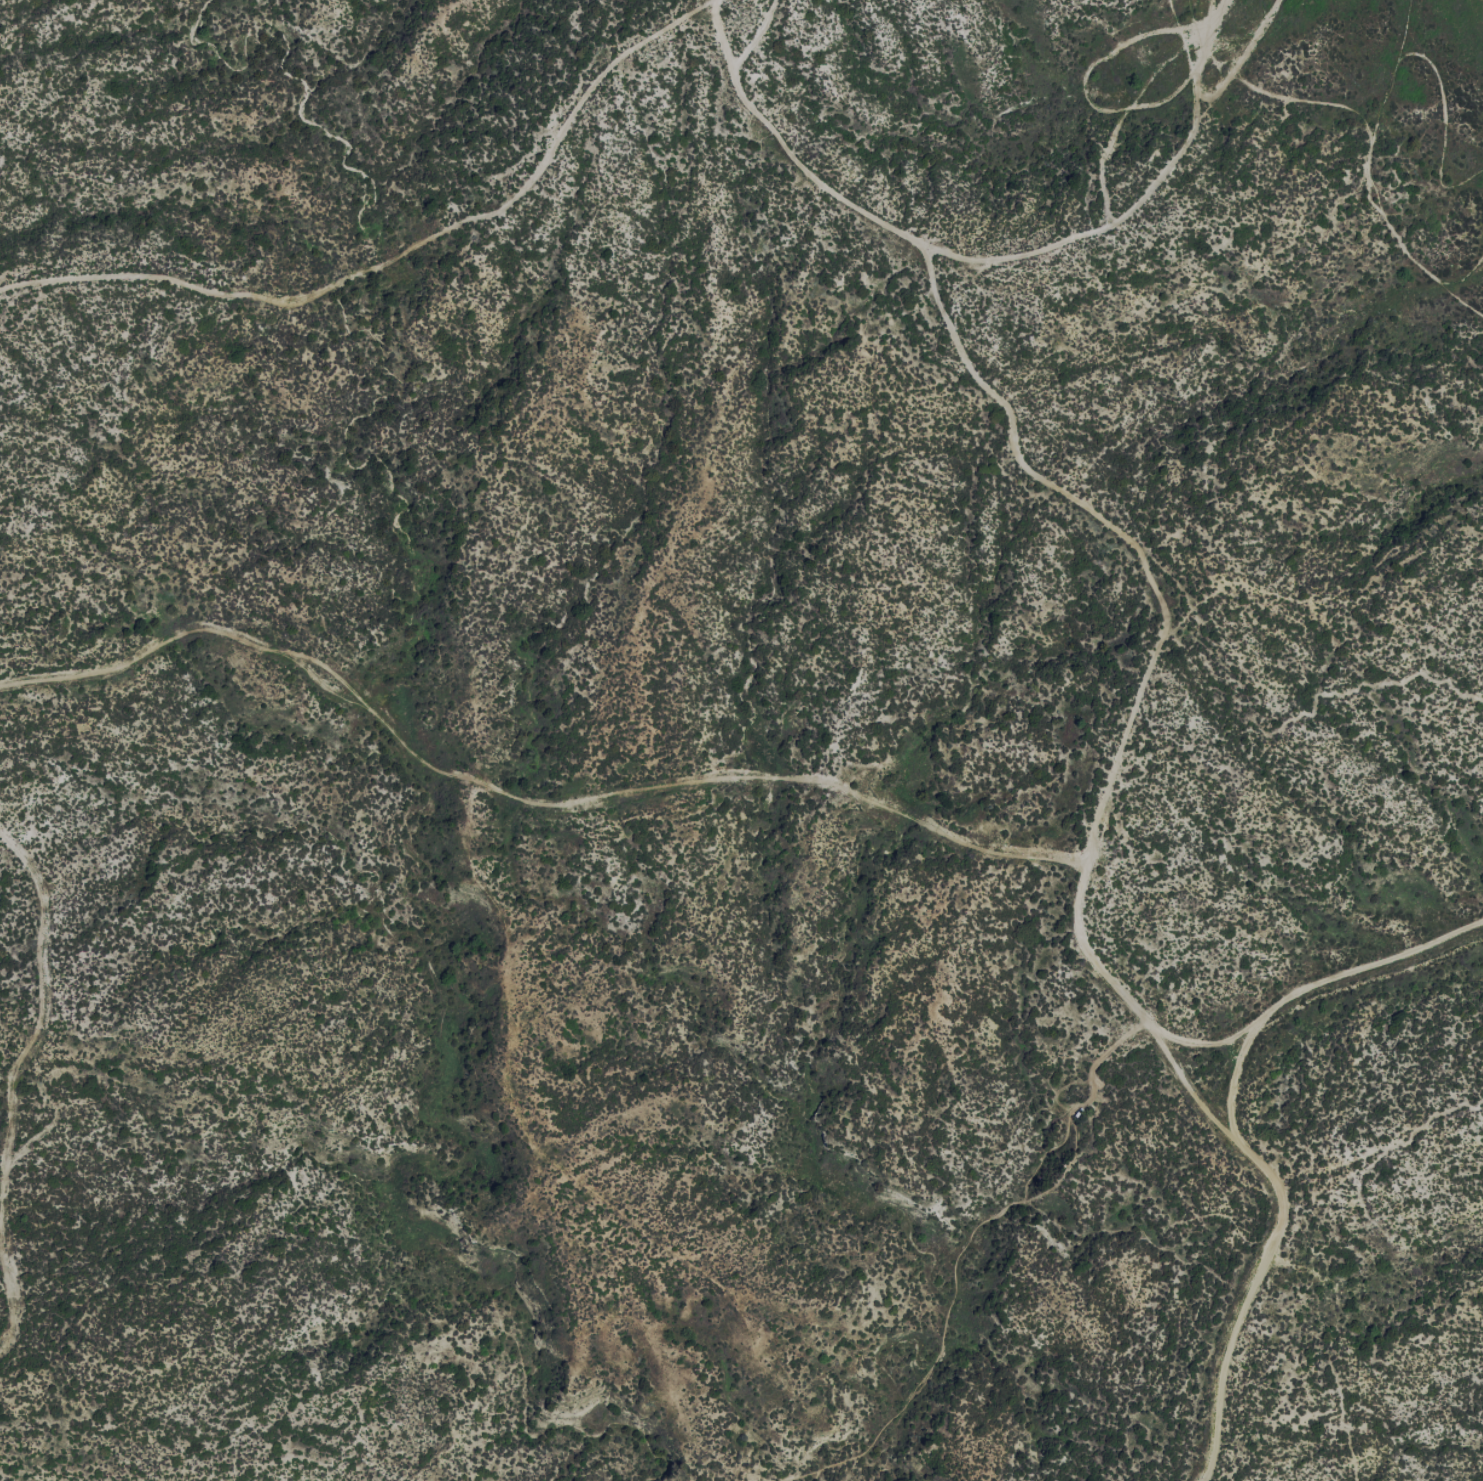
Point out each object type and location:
road: (1056, 492)
road: (1316, 984)

